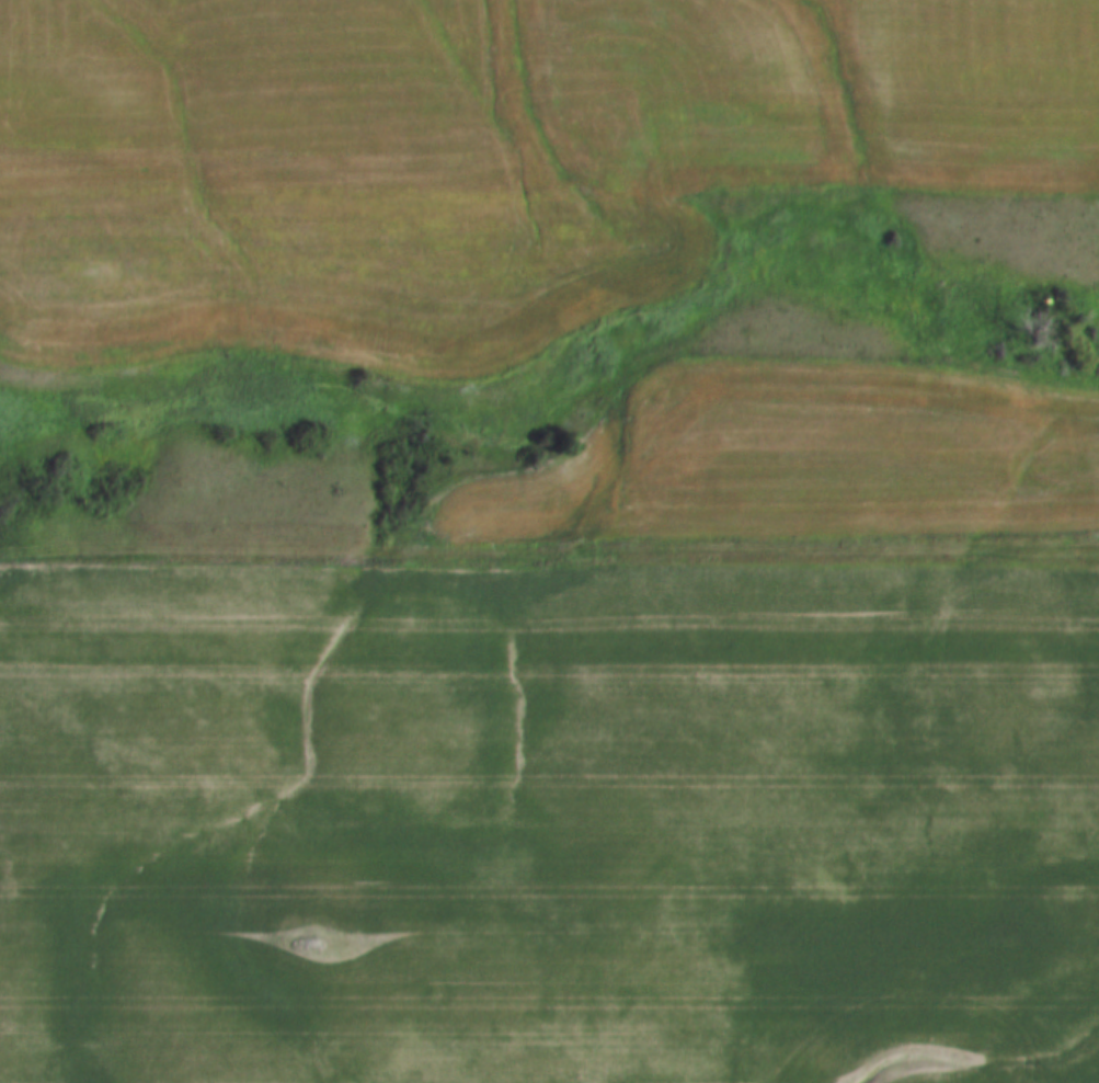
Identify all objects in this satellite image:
road: (549, 550)

